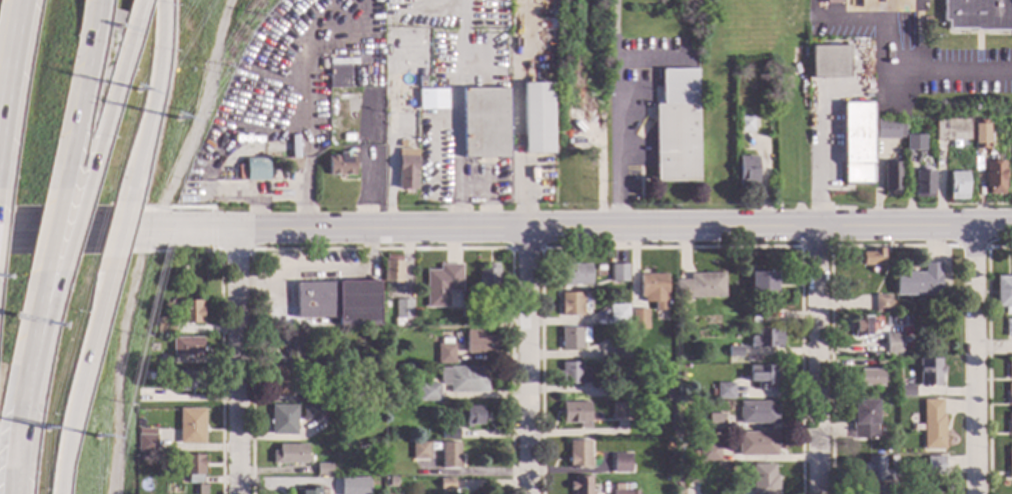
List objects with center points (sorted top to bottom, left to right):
road: (134, 13)
building: (978, 14)
road: (11, 61)
building: (828, 62)
road: (892, 73)
building: (337, 77)
building: (421, 82)
road: (80, 89)
power tower: (136, 91)
building: (431, 99)
road: (106, 105)
road: (151, 105)
power tower: (177, 118)
road: (198, 118)
road: (306, 119)
building: (537, 119)
building: (571, 120)
building: (911, 121)
building: (484, 122)
building: (745, 124)
building: (676, 127)
building: (927, 127)
building: (888, 129)
building: (950, 130)
road: (457, 132)
building: (980, 133)
building: (352, 142)
road: (612, 142)
building: (857, 143)
building: (914, 143)
building: (400, 144)
road: (820, 163)
building: (339, 165)
building: (256, 169)
building: (405, 169)
building: (746, 171)
building: (892, 178)
building: (993, 178)
building: (584, 181)
building: (922, 183)
building: (956, 186)
road: (279, 191)
road: (590, 230)
road: (84, 233)
road: (115, 244)
road: (970, 247)
road: (50, 249)
road: (61, 253)
building: (869, 258)
building: (391, 269)
building: (618, 273)
building: (574, 275)
building: (487, 279)
building: (761, 281)
building: (919, 281)
building: (441, 285)
building: (700, 286)
building: (653, 290)
building: (1003, 293)
building: (338, 302)
building: (570, 304)
building: (881, 304)
road: (829, 307)
building: (191, 312)
building: (401, 312)
building: (617, 314)
building: (637, 320)
building: (753, 320)
building: (470, 321)
building: (487, 321)
building: (681, 321)
building: (151, 325)
building: (860, 326)
building: (1008, 328)
building: (376, 338)
building: (572, 338)
building: (766, 339)
building: (322, 341)
building: (479, 343)
building: (893, 343)
building: (287, 344)
building: (186, 346)
building: (618, 349)
road: (994, 349)
building: (734, 351)
building: (444, 352)
road: (987, 357)
building: (152, 359)
road: (976, 360)
road: (119, 362)
road: (237, 362)
road: (528, 362)
road: (815, 362)
building: (878, 363)
building: (1009, 368)
building: (929, 372)
building: (139, 374)
building: (572, 374)
building: (682, 375)
building: (761, 375)
building: (622, 376)
building: (869, 378)
building: (189, 379)
building: (387, 379)
building: (464, 379)
building: (279, 382)
road: (78, 386)
building: (618, 390)
building: (905, 390)
building: (724, 391)
building: (424, 392)
building: (1009, 394)
building: (310, 396)
road: (21, 406)
building: (343, 409)
building: (638, 409)
building: (619, 411)
building: (310, 412)
building: (757, 412)
building: (575, 414)
building: (473, 416)
building: (863, 419)
building: (283, 420)
building: (713, 422)
building: (1009, 423)
building: (932, 425)
building: (191, 426)
power tower: (45, 431)
building: (449, 434)
power tower: (98, 438)
building: (146, 440)
building: (664, 444)
building: (755, 444)
building: (653, 450)
building: (889, 450)
building: (419, 451)
building: (707, 452)
building: (578, 454)
building: (290, 455)
building: (449, 455)
building: (693, 455)
building: (152, 457)
building: (137, 458)
building: (635, 458)
building: (892, 460)
building: (620, 463)
building: (1009, 463)
building: (128, 464)
building: (934, 465)
building: (192, 468)
building: (323, 469)
building: (875, 470)
building: (687, 475)
building: (762, 479)
building: (184, 481)
building: (446, 484)
building: (342, 485)
building: (580, 485)
building: (199, 489)
building: (619, 489)
building: (945, 489)
building: (307, 490)
building: (876, 490)
building: (633, 492)

